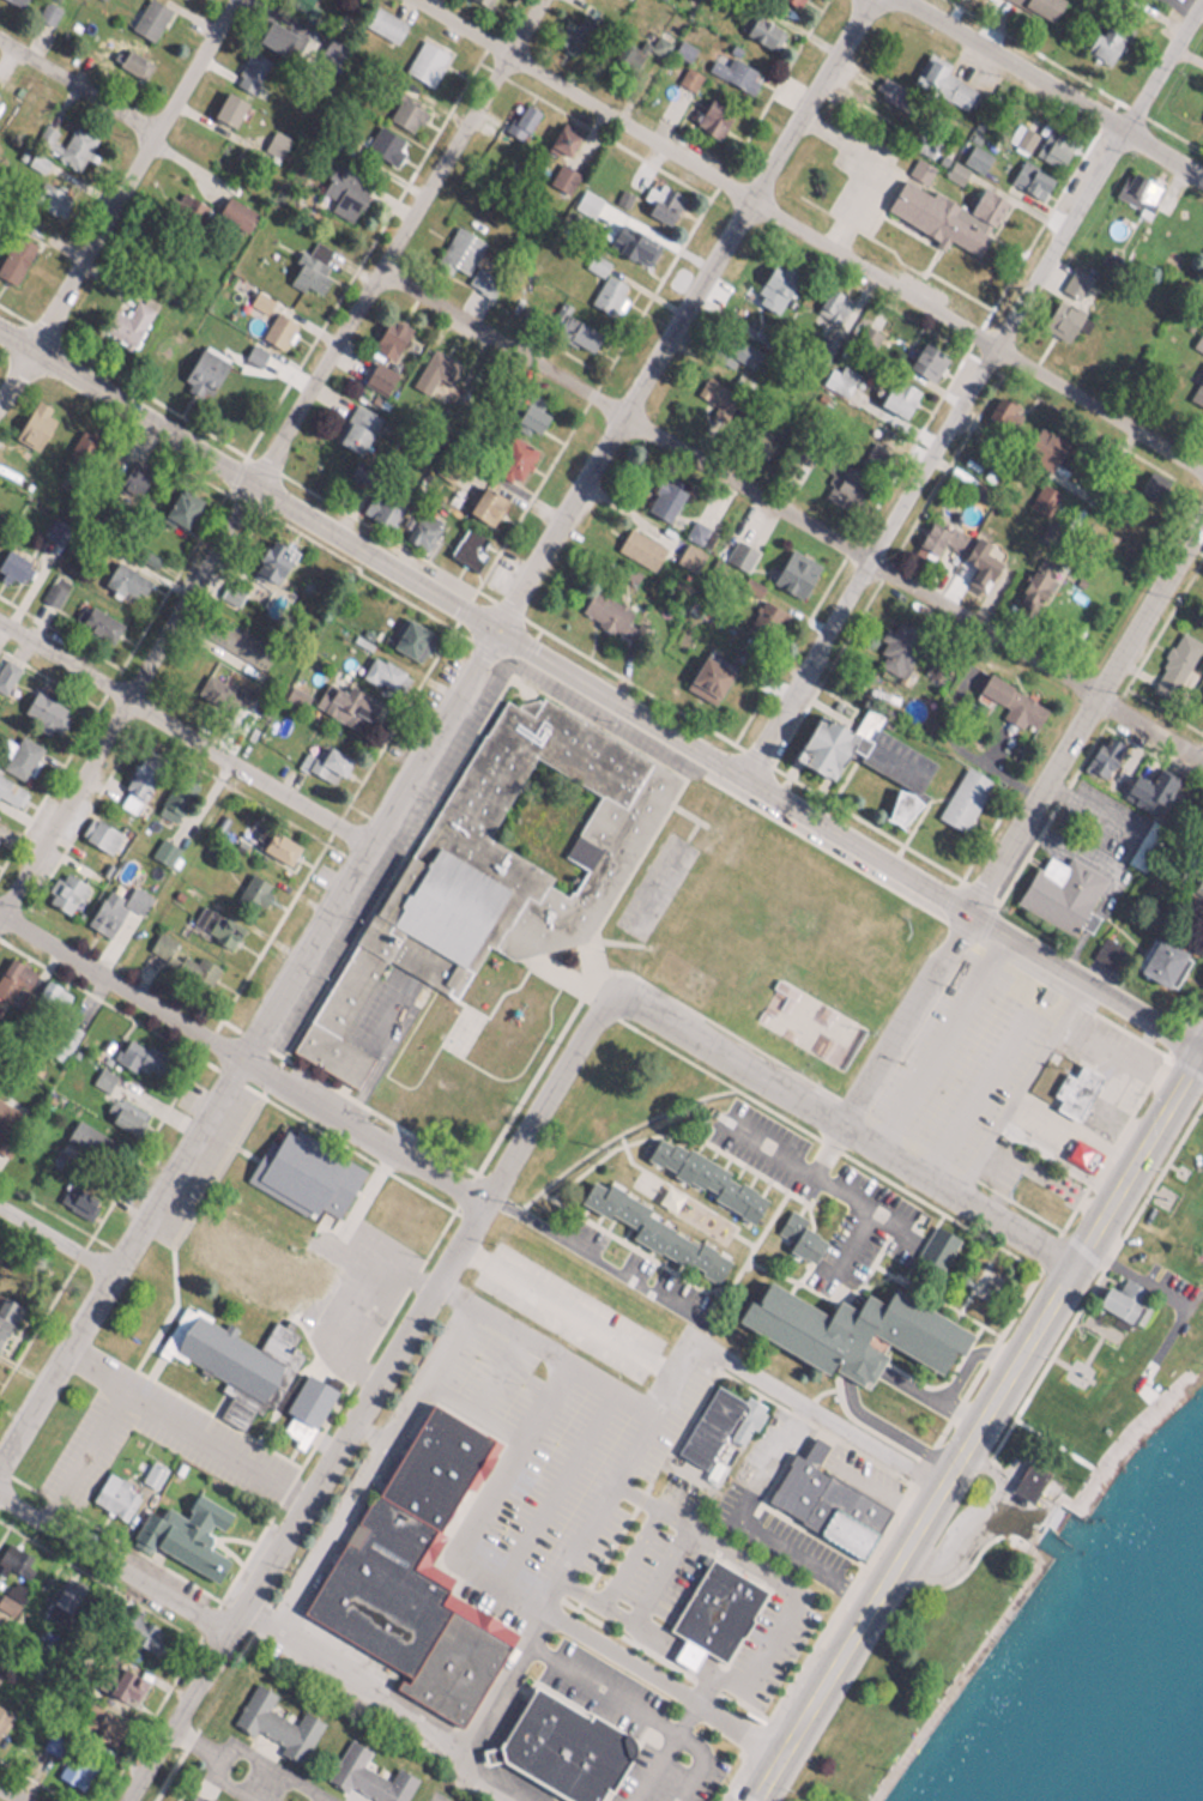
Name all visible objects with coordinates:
building: (478, 0)
building: (791, 1)
building: (1039, 4)
building: (146, 13)
building: (381, 17)
building: (757, 24)
building: (271, 31)
building: (563, 31)
building: (1095, 43)
building: (730, 65)
building: (687, 72)
building: (942, 78)
road: (1046, 90)
building: (225, 103)
building: (401, 108)
building: (709, 111)
building: (519, 115)
building: (1020, 131)
building: (558, 132)
building: (382, 137)
building: (273, 138)
building: (1054, 139)
building: (973, 151)
road: (872, 168)
building: (560, 171)
building: (1028, 173)
building: (1135, 183)
building: (659, 195)
road: (113, 198)
building: (232, 206)
building: (941, 208)
road: (805, 238)
building: (458, 246)
building: (13, 252)
building: (306, 264)
building: (774, 272)
building: (606, 288)
building: (1057, 314)
building: (126, 315)
building: (573, 326)
building: (387, 332)
building: (731, 347)
building: (923, 355)
road: (971, 389)
building: (1196, 389)
building: (893, 392)
building: (527, 411)
road: (600, 411)
building: (32, 416)
building: (351, 431)
building: (755, 437)
road: (271, 451)
building: (1053, 465)
building: (660, 494)
building: (379, 503)
building: (175, 504)
building: (418, 524)
building: (465, 540)
building: (637, 542)
building: (687, 549)
building: (270, 555)
building: (12, 558)
building: (975, 560)
building: (939, 561)
building: (791, 566)
building: (121, 574)
road: (484, 620)
building: (405, 631)
building: (1199, 663)
building: (6, 665)
building: (1175, 665)
building: (703, 672)
building: (1199, 689)
building: (349, 695)
building: (1009, 697)
building: (35, 699)
building: (527, 712)
road: (1088, 717)
road: (431, 735)
road: (181, 741)
building: (820, 741)
building: (20, 749)
building: (322, 759)
building: (479, 762)
building: (1155, 780)
building: (10, 786)
building: (621, 808)
building: (97, 828)
building: (276, 841)
building: (252, 883)
building: (61, 884)
building: (1058, 884)
building: (111, 902)
building: (158, 938)
building: (1156, 955)
building: (194, 961)
building: (11, 974)
road: (1084, 980)
road: (902, 1016)
road: (942, 1040)
road: (1202, 1048)
building: (134, 1050)
road: (1202, 1050)
road: (1120, 1054)
road: (240, 1063)
building: (1071, 1082)
road: (1021, 1088)
road: (846, 1126)
road: (1057, 1160)
building: (701, 1170)
road: (822, 1183)
building: (637, 1216)
building: (802, 1237)
road: (54, 1239)
building: (932, 1243)
road: (1080, 1252)
building: (1116, 1293)
building: (5, 1307)
road: (572, 1311)
building: (848, 1324)
road: (546, 1350)
road: (368, 1401)
building: (301, 1402)
building: (715, 1403)
road: (817, 1421)
road: (187, 1426)
road: (91, 1433)
road: (645, 1438)
building: (1024, 1470)
road: (1002, 1483)
building: (790, 1486)
building: (113, 1491)
road: (929, 1507)
road: (962, 1510)
road: (1051, 1523)
building: (176, 1537)
building: (424, 1542)
road: (526, 1598)
building: (135, 1627)
road: (253, 1654)
road: (827, 1680)
building: (122, 1681)
road: (597, 1690)
building: (2, 1710)
building: (273, 1716)
building: (97, 1718)
building: (548, 1735)
road: (197, 1742)
road: (660, 1749)
road: (277, 1770)
building: (367, 1772)
road: (234, 1784)
building: (195, 1795)
road: (4, 1797)

